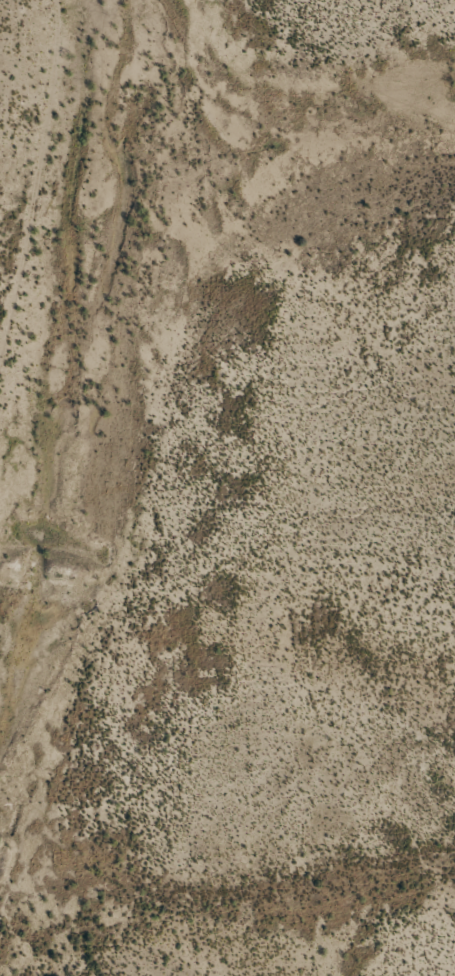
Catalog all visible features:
road: (56, 181)

